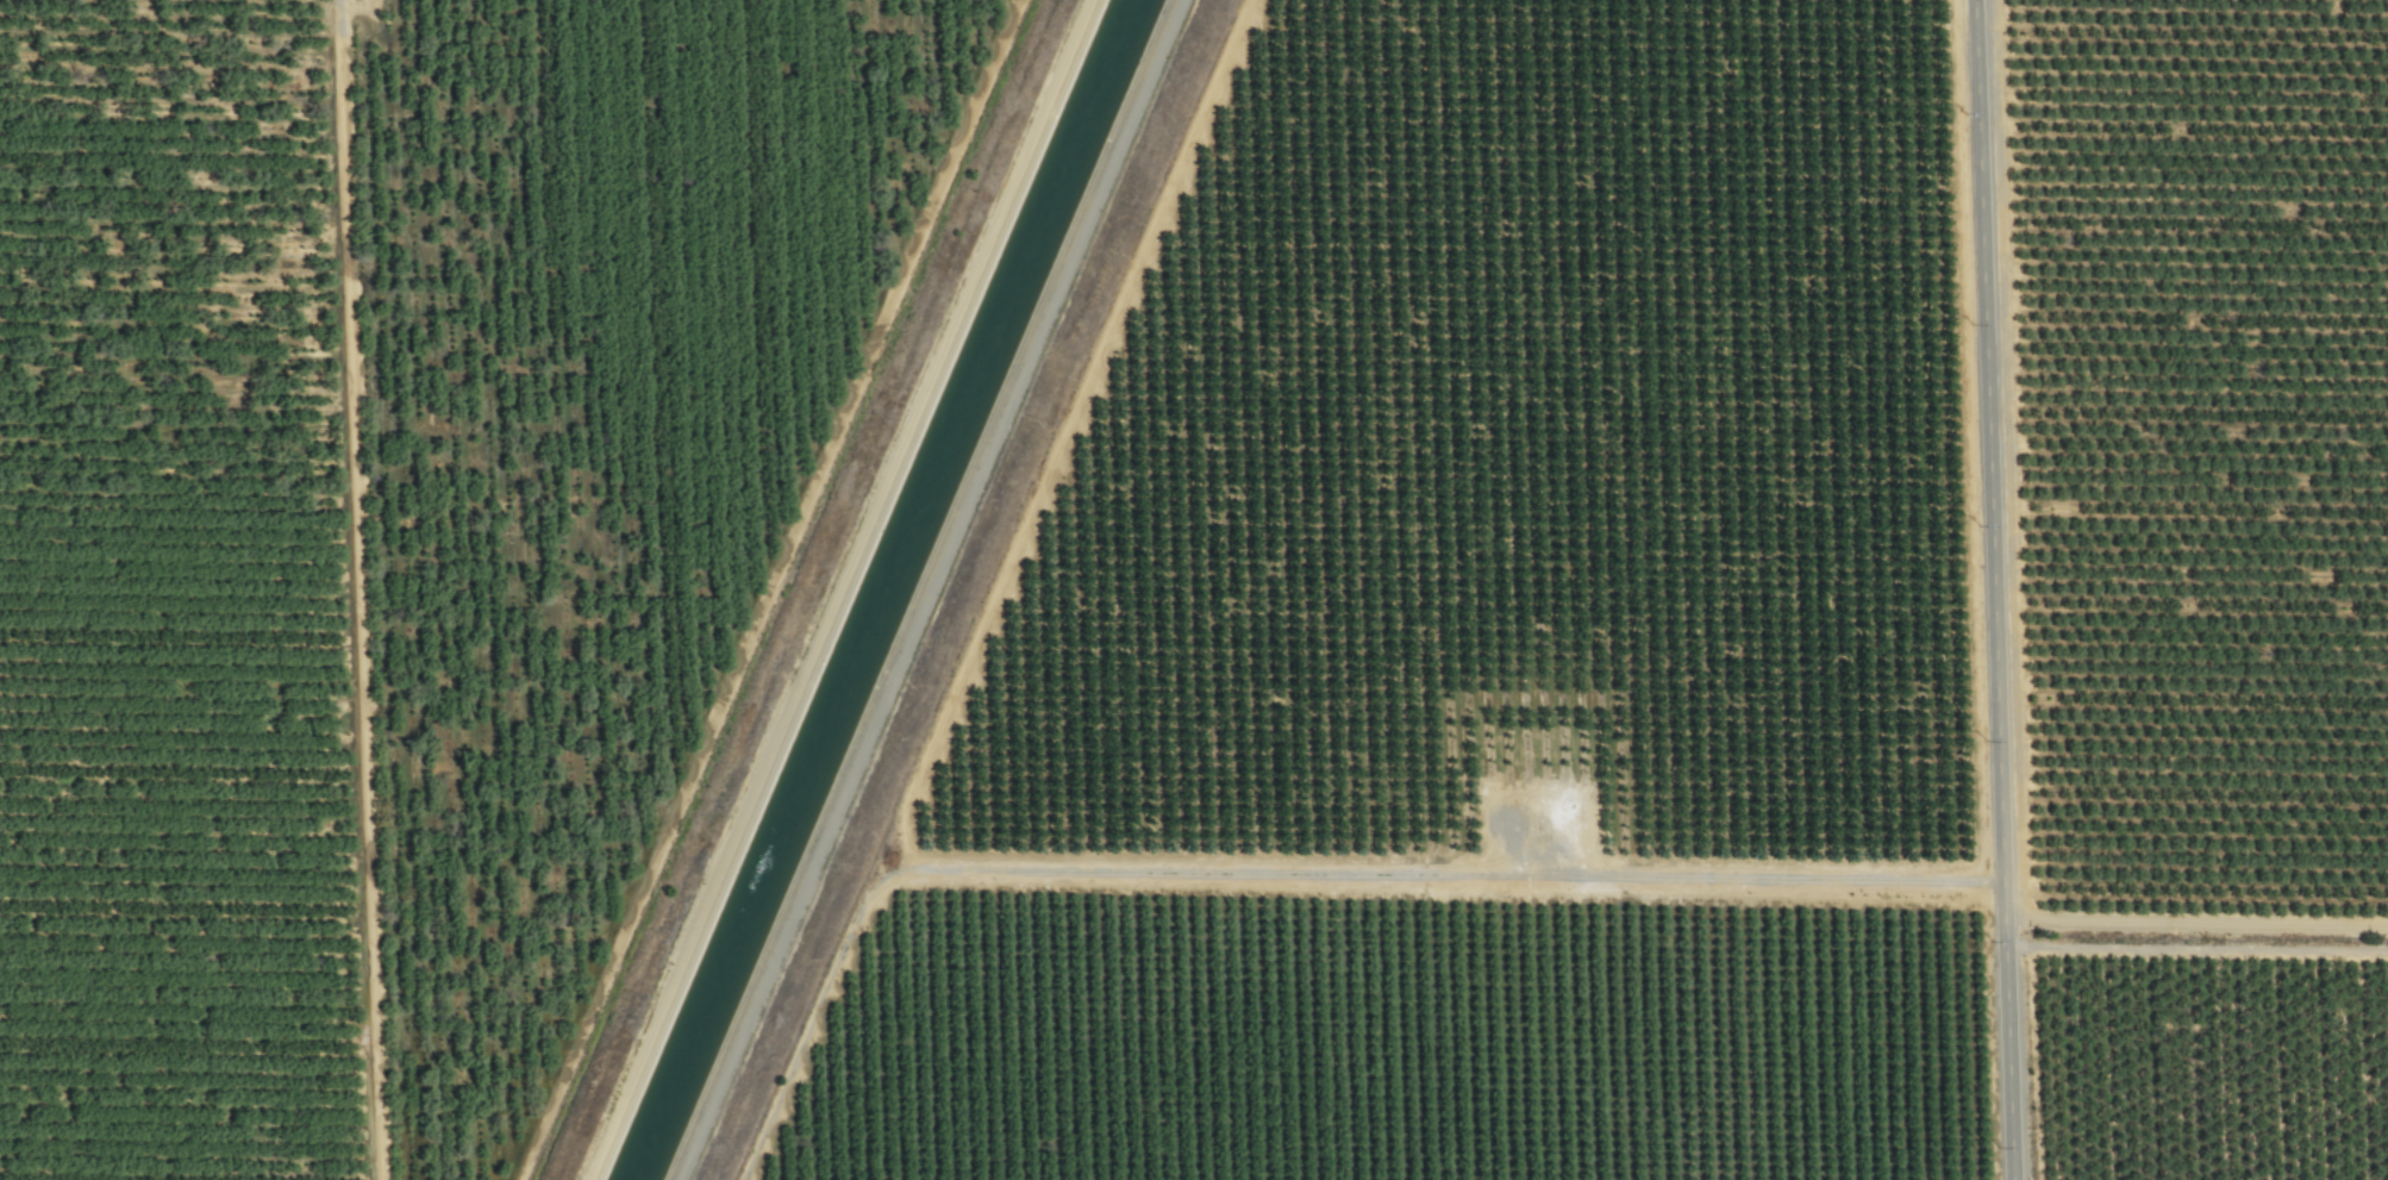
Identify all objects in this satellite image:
road: (1992, 589)
road: (2195, 922)
road: (2194, 949)

